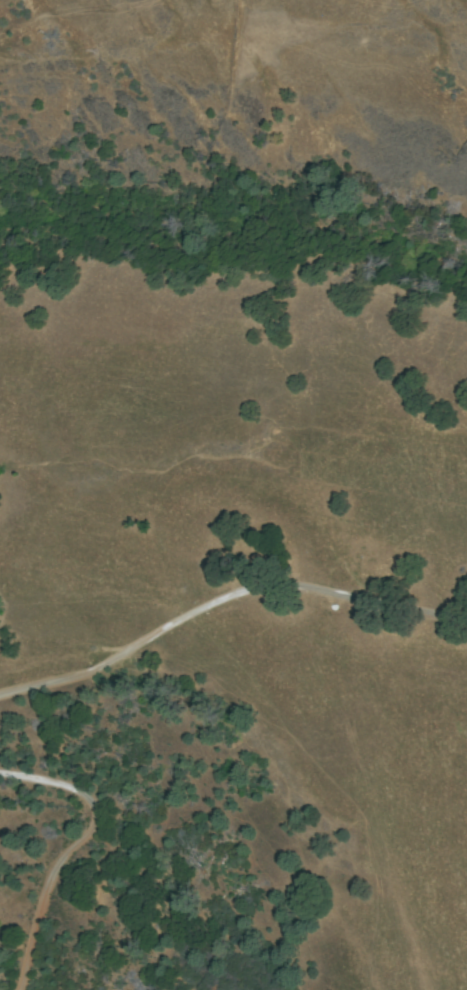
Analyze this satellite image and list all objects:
road: (225, 604)

